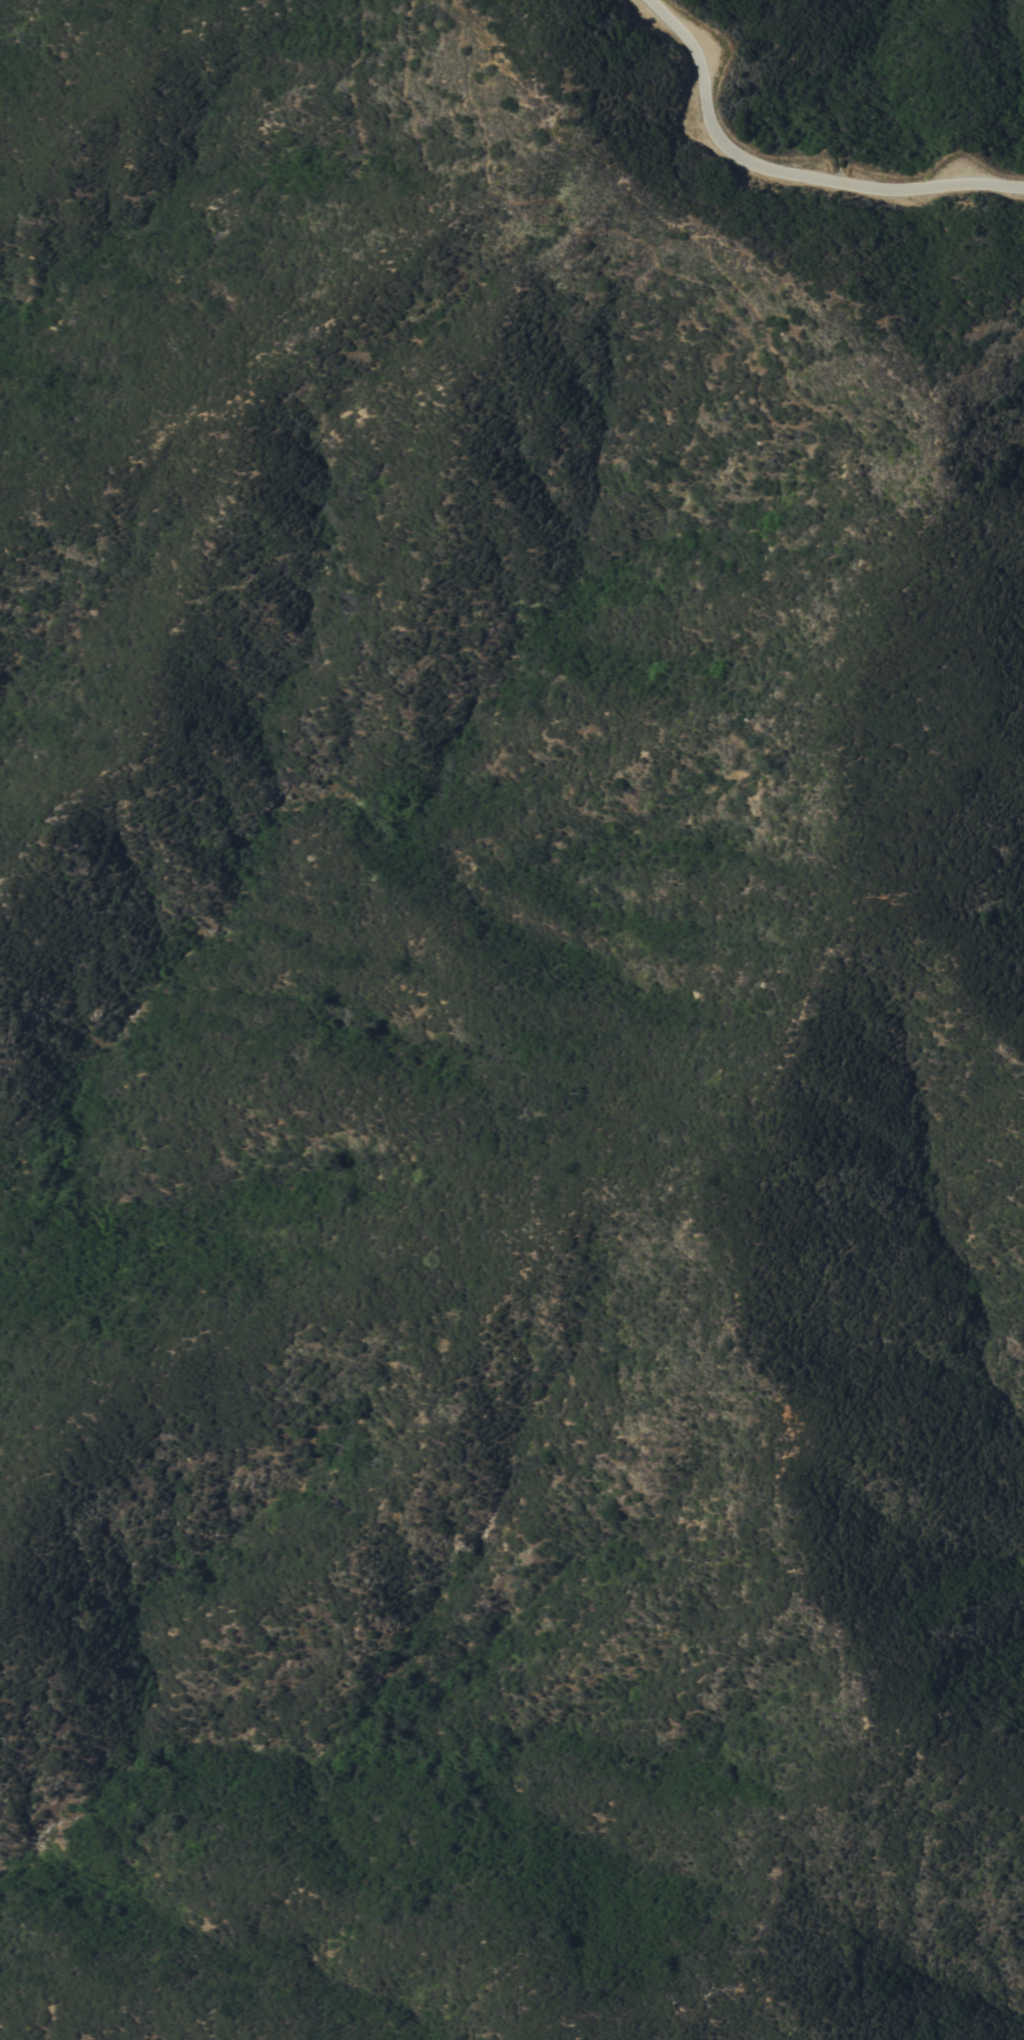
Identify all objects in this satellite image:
road: (786, 173)

